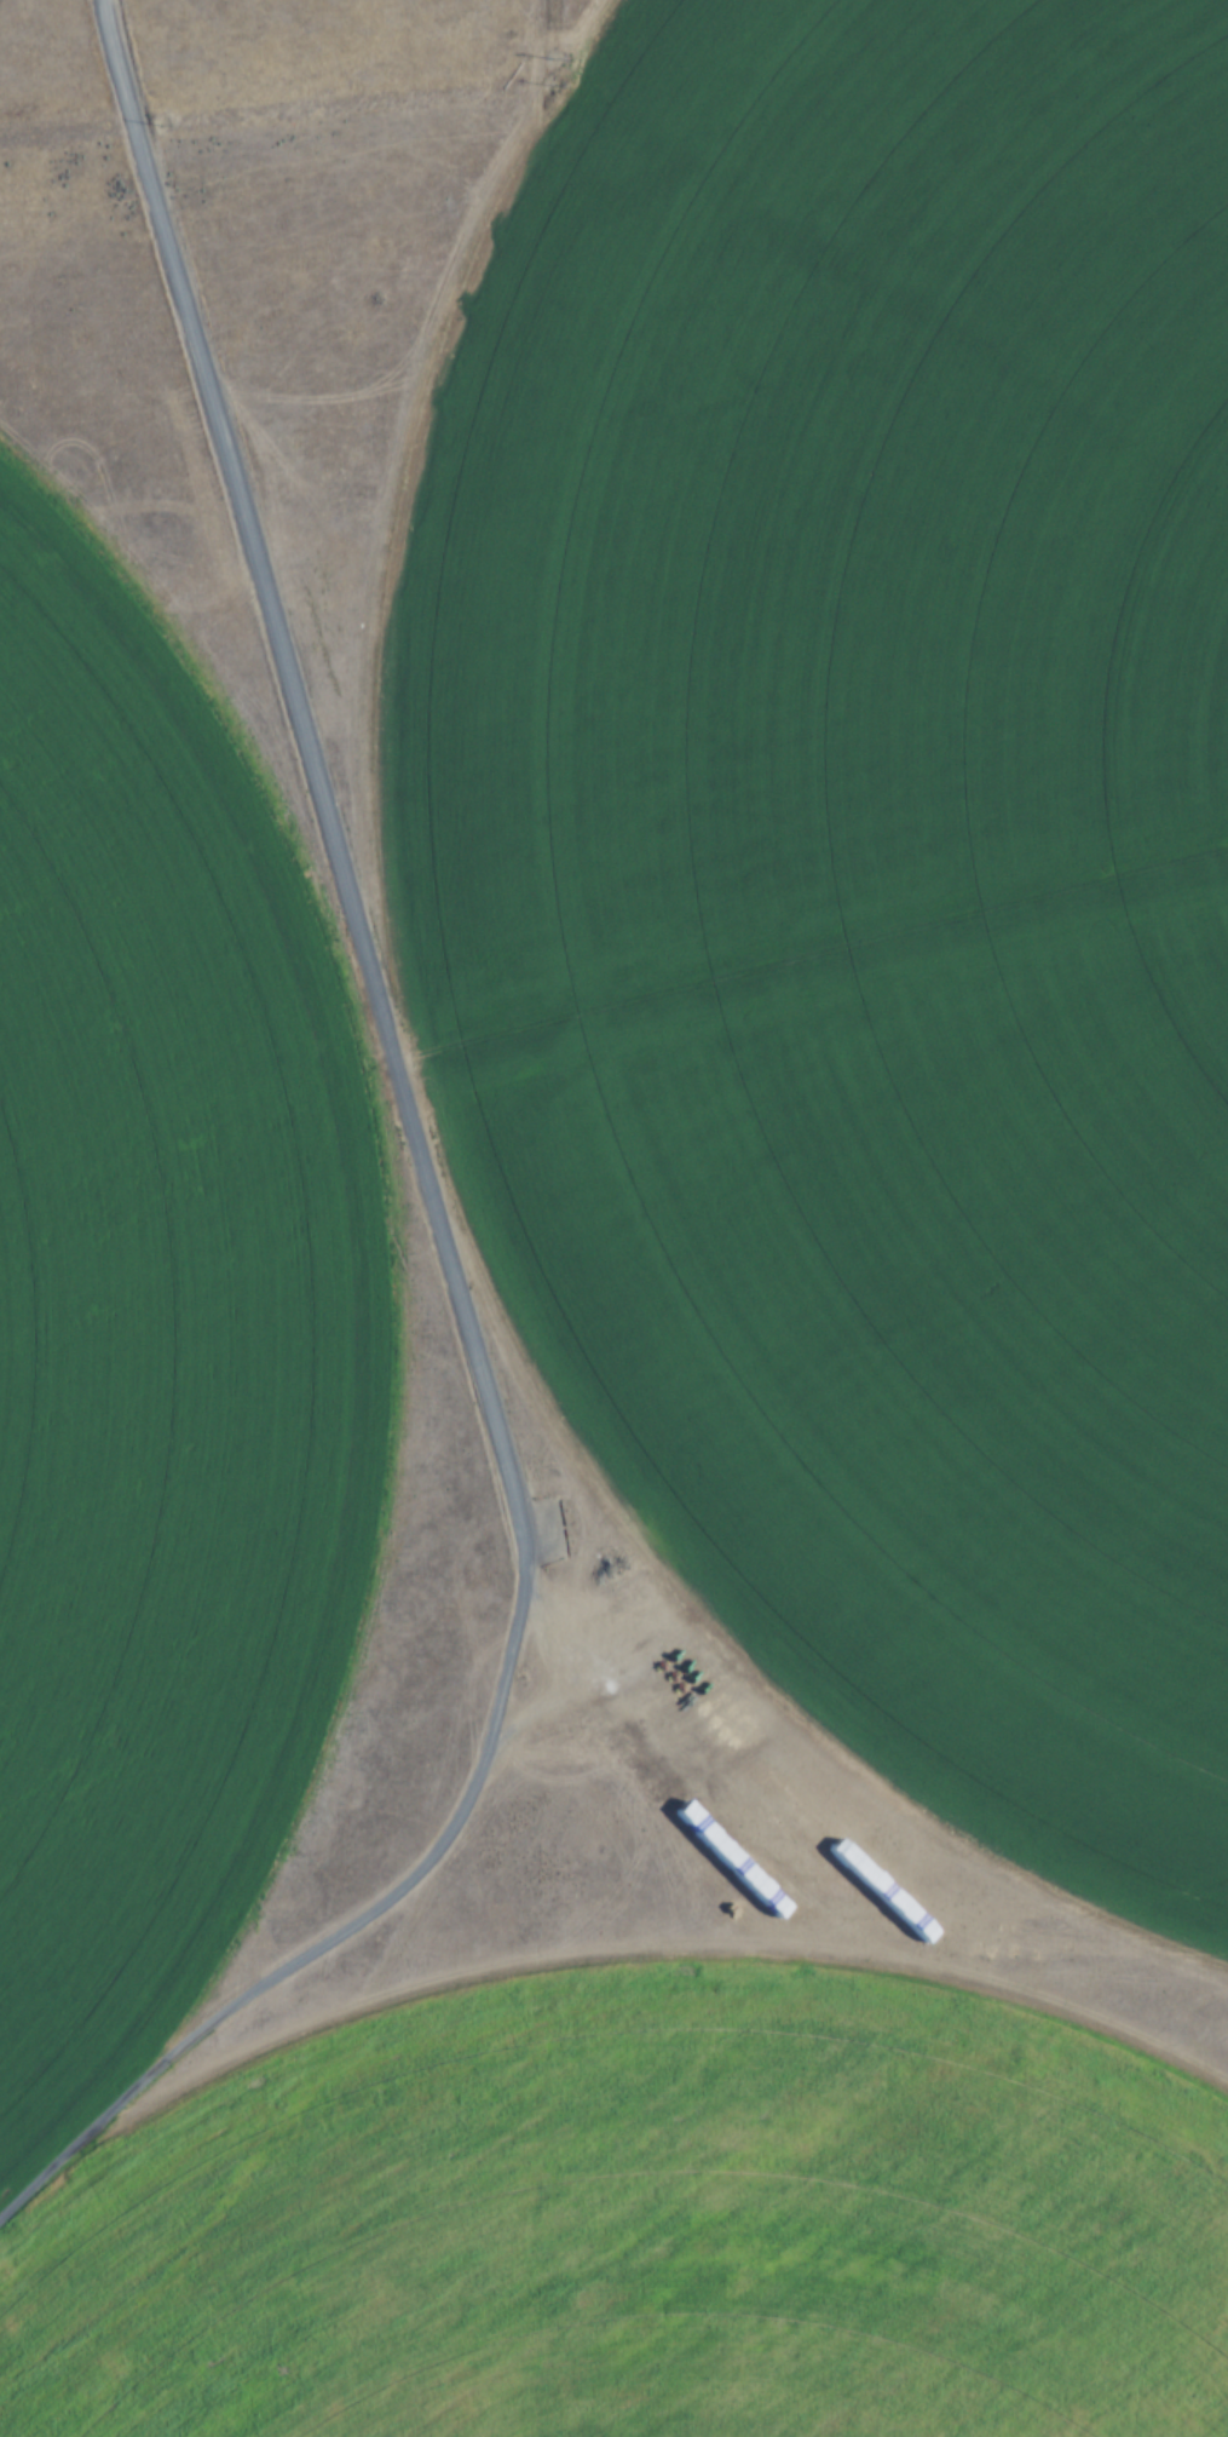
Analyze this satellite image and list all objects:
road: (429, 1196)
road: (555, 1525)
parking lot: (547, 1528)

